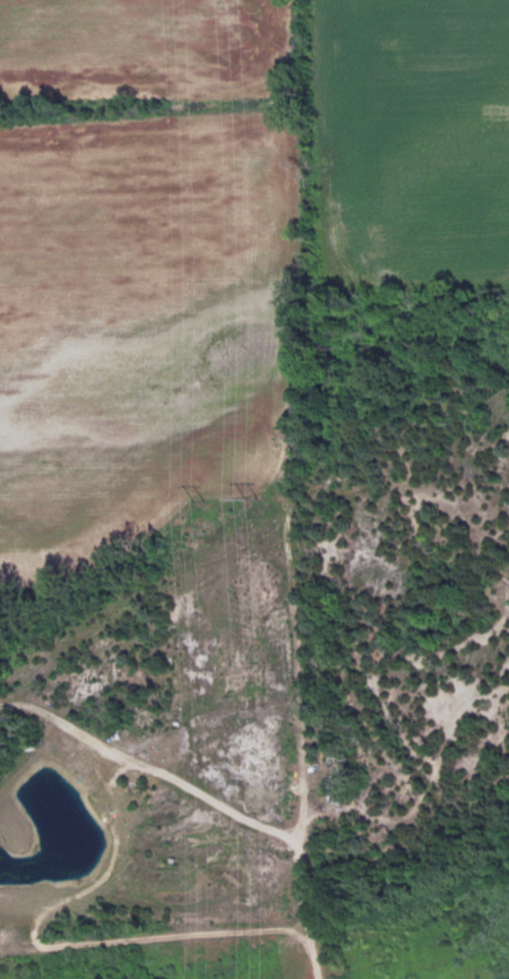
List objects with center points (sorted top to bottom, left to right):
power tower: (252, 496)
power tower: (197, 498)
road: (175, 933)

